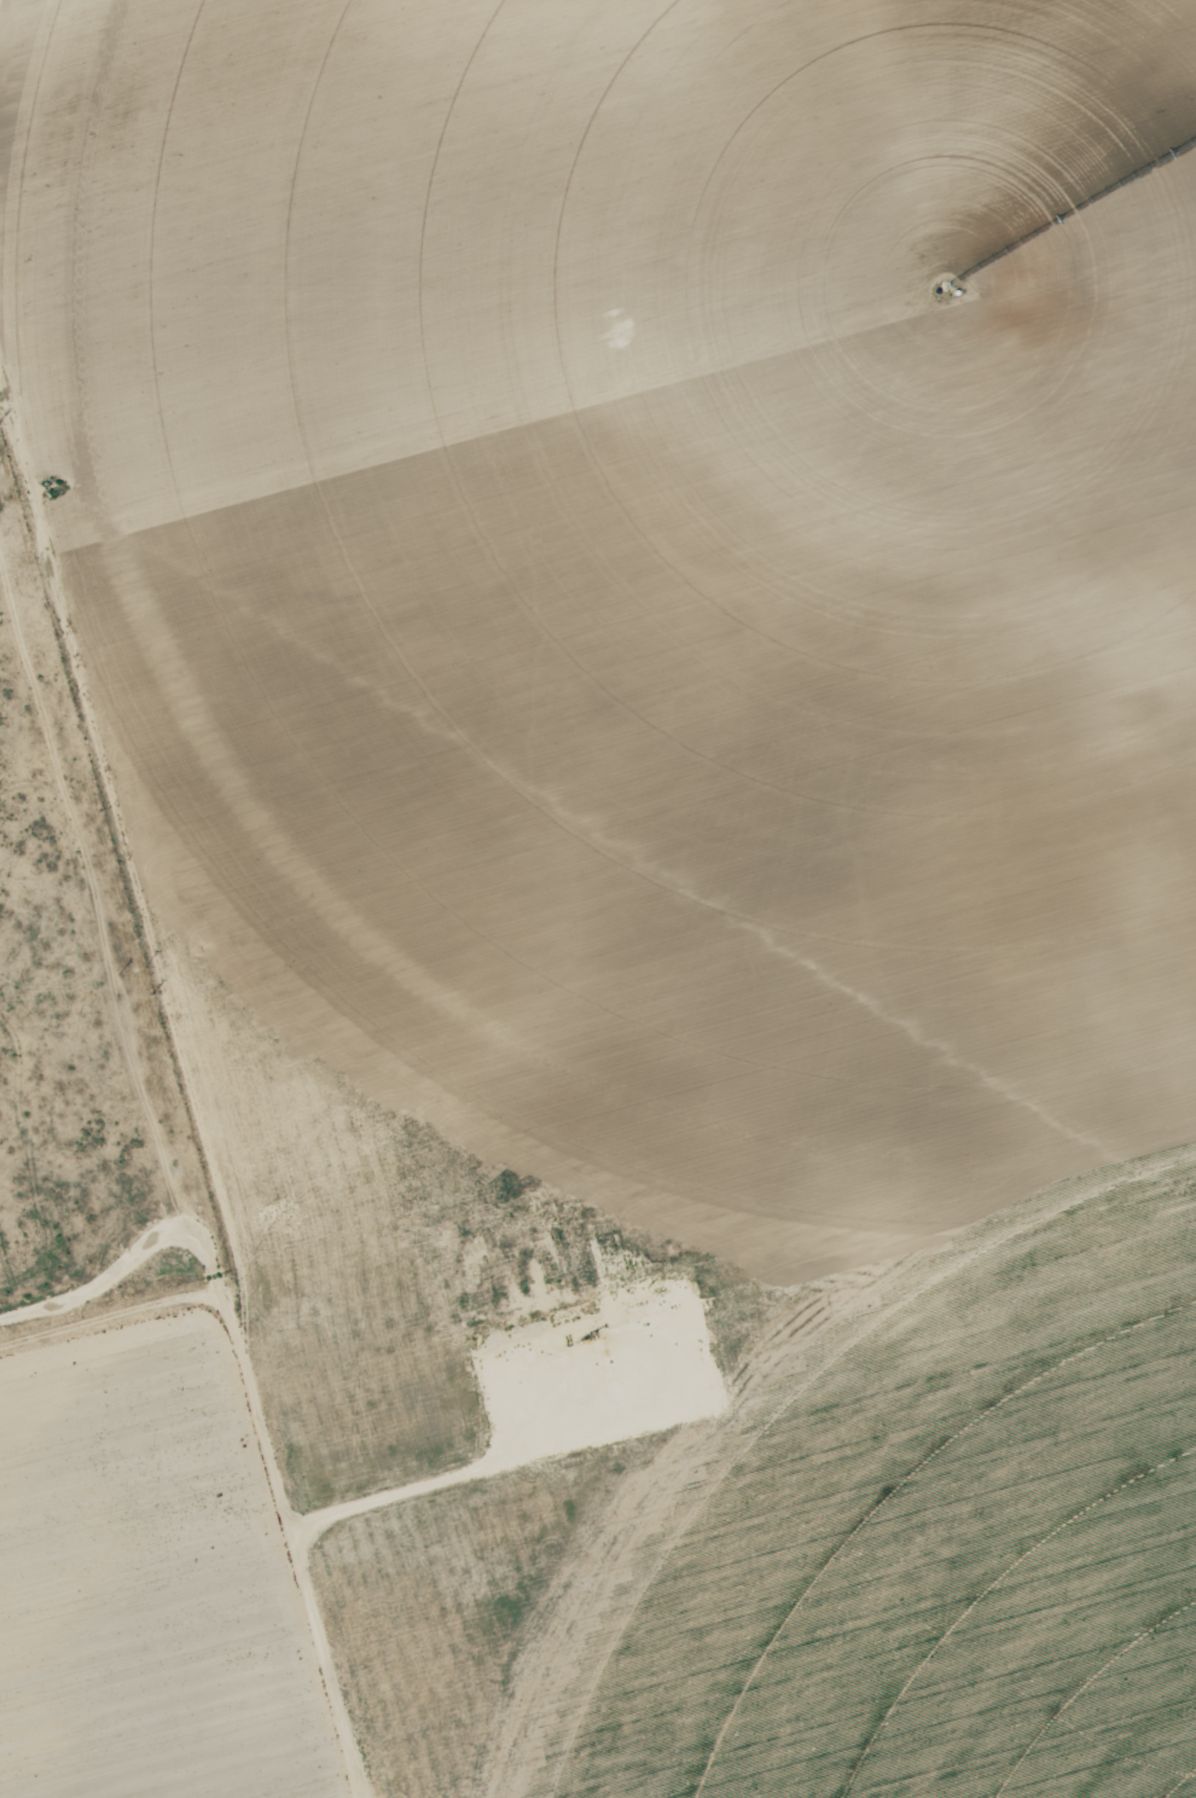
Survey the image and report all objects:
petroleum well: (598, 1335)

